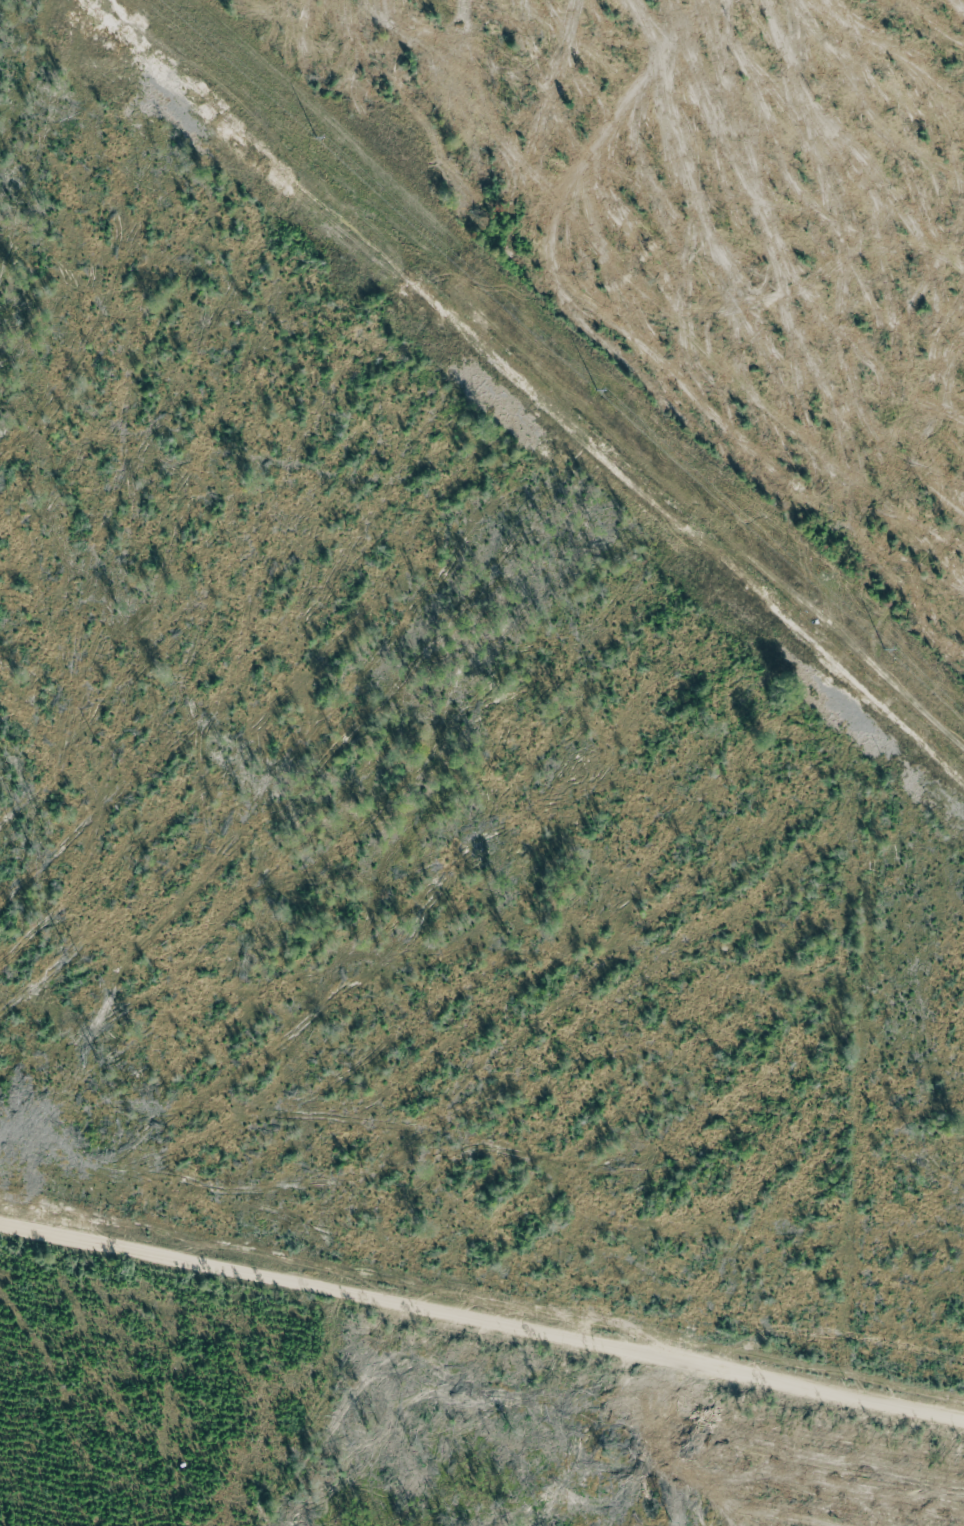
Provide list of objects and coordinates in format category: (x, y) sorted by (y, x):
power tower: (325, 143)
power tower: (610, 398)
power tower: (896, 655)
road: (482, 1304)

